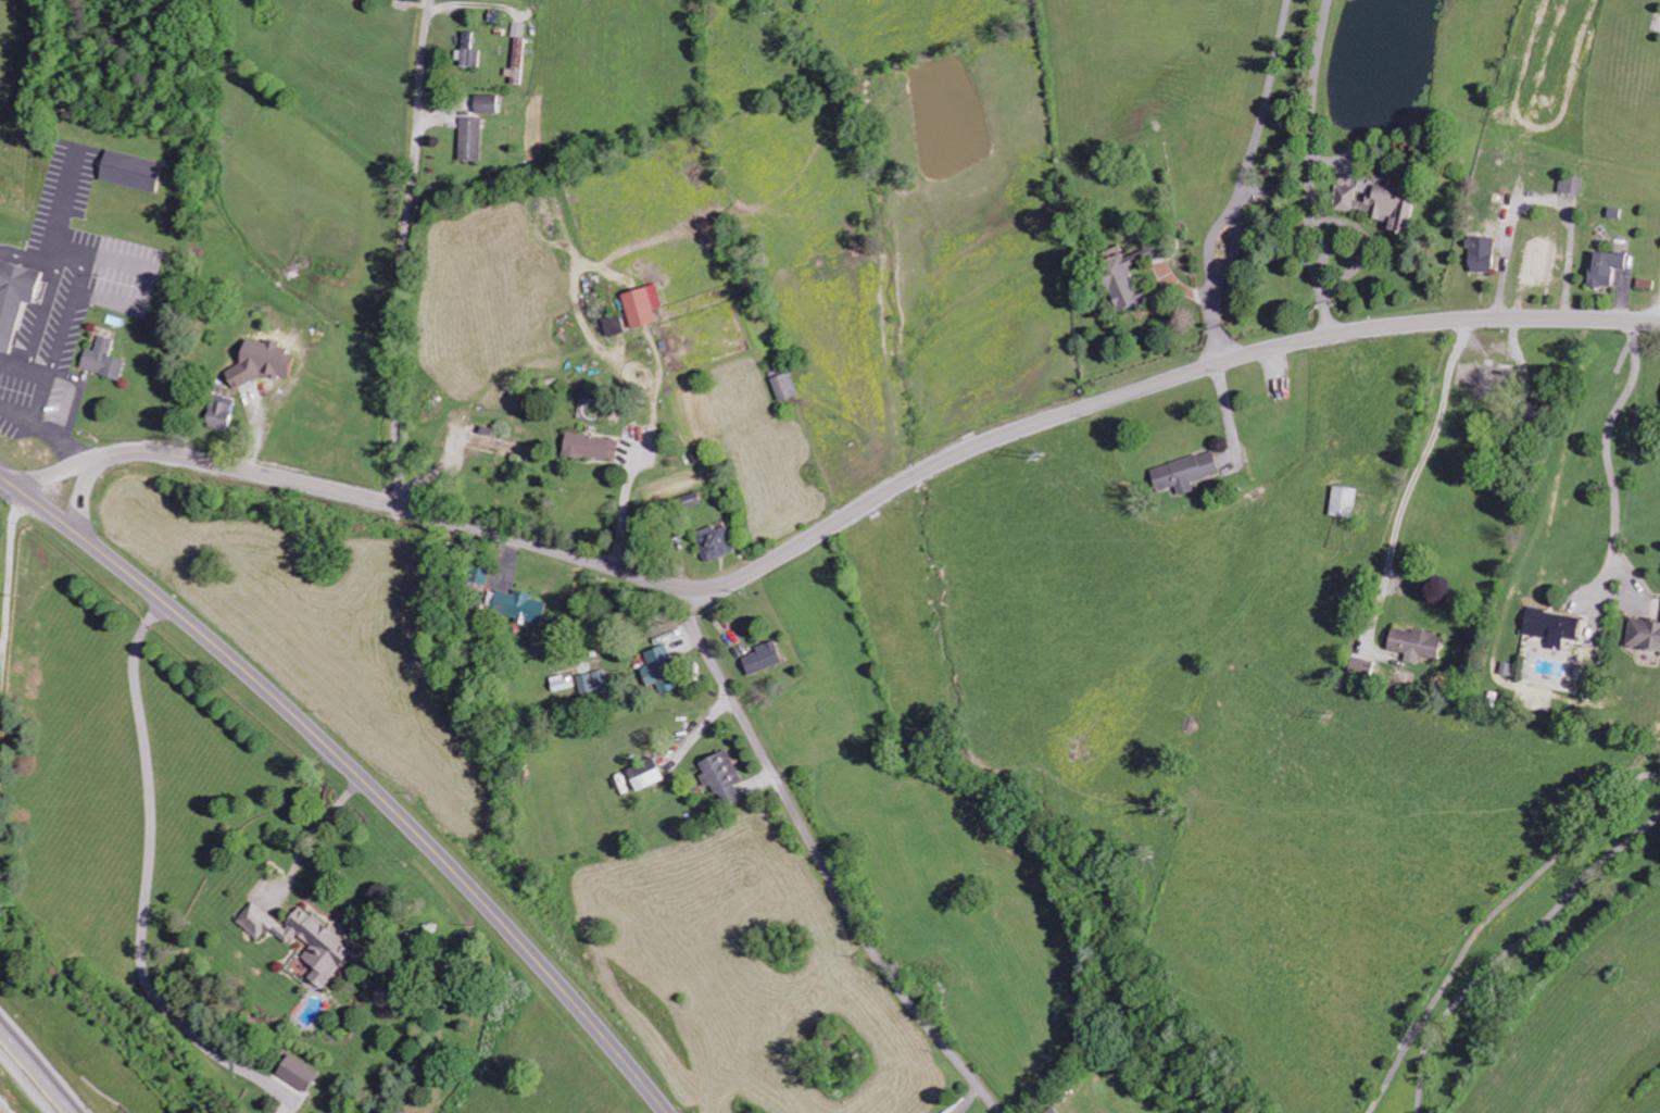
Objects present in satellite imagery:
building: (469, 51)
building: (517, 53)
building: (486, 104)
building: (470, 139)
building: (129, 171)
building: (1571, 185)
building: (1379, 203)
road: (405, 253)
building: (1481, 254)
building: (1606, 267)
building: (1127, 276)
building: (14, 299)
building: (643, 305)
building: (615, 326)
building: (102, 360)
building: (784, 387)
building: (218, 413)
building: (494, 442)
building: (592, 448)
building: (1186, 473)
road: (84, 498)
building: (692, 500)
building: (1344, 503)
road: (838, 523)
building: (717, 541)
building: (478, 573)
building: (519, 606)
building: (1555, 627)
building: (1645, 633)
building: (1417, 643)
building: (764, 658)
building: (661, 670)
building: (592, 683)
road: (355, 771)
building: (645, 774)
building: (722, 776)
road: (821, 860)
building: (303, 939)
building: (299, 1073)
road: (32, 1076)
building: (1055, 1110)
road: (0, 1112)
building: (946, 1112)

